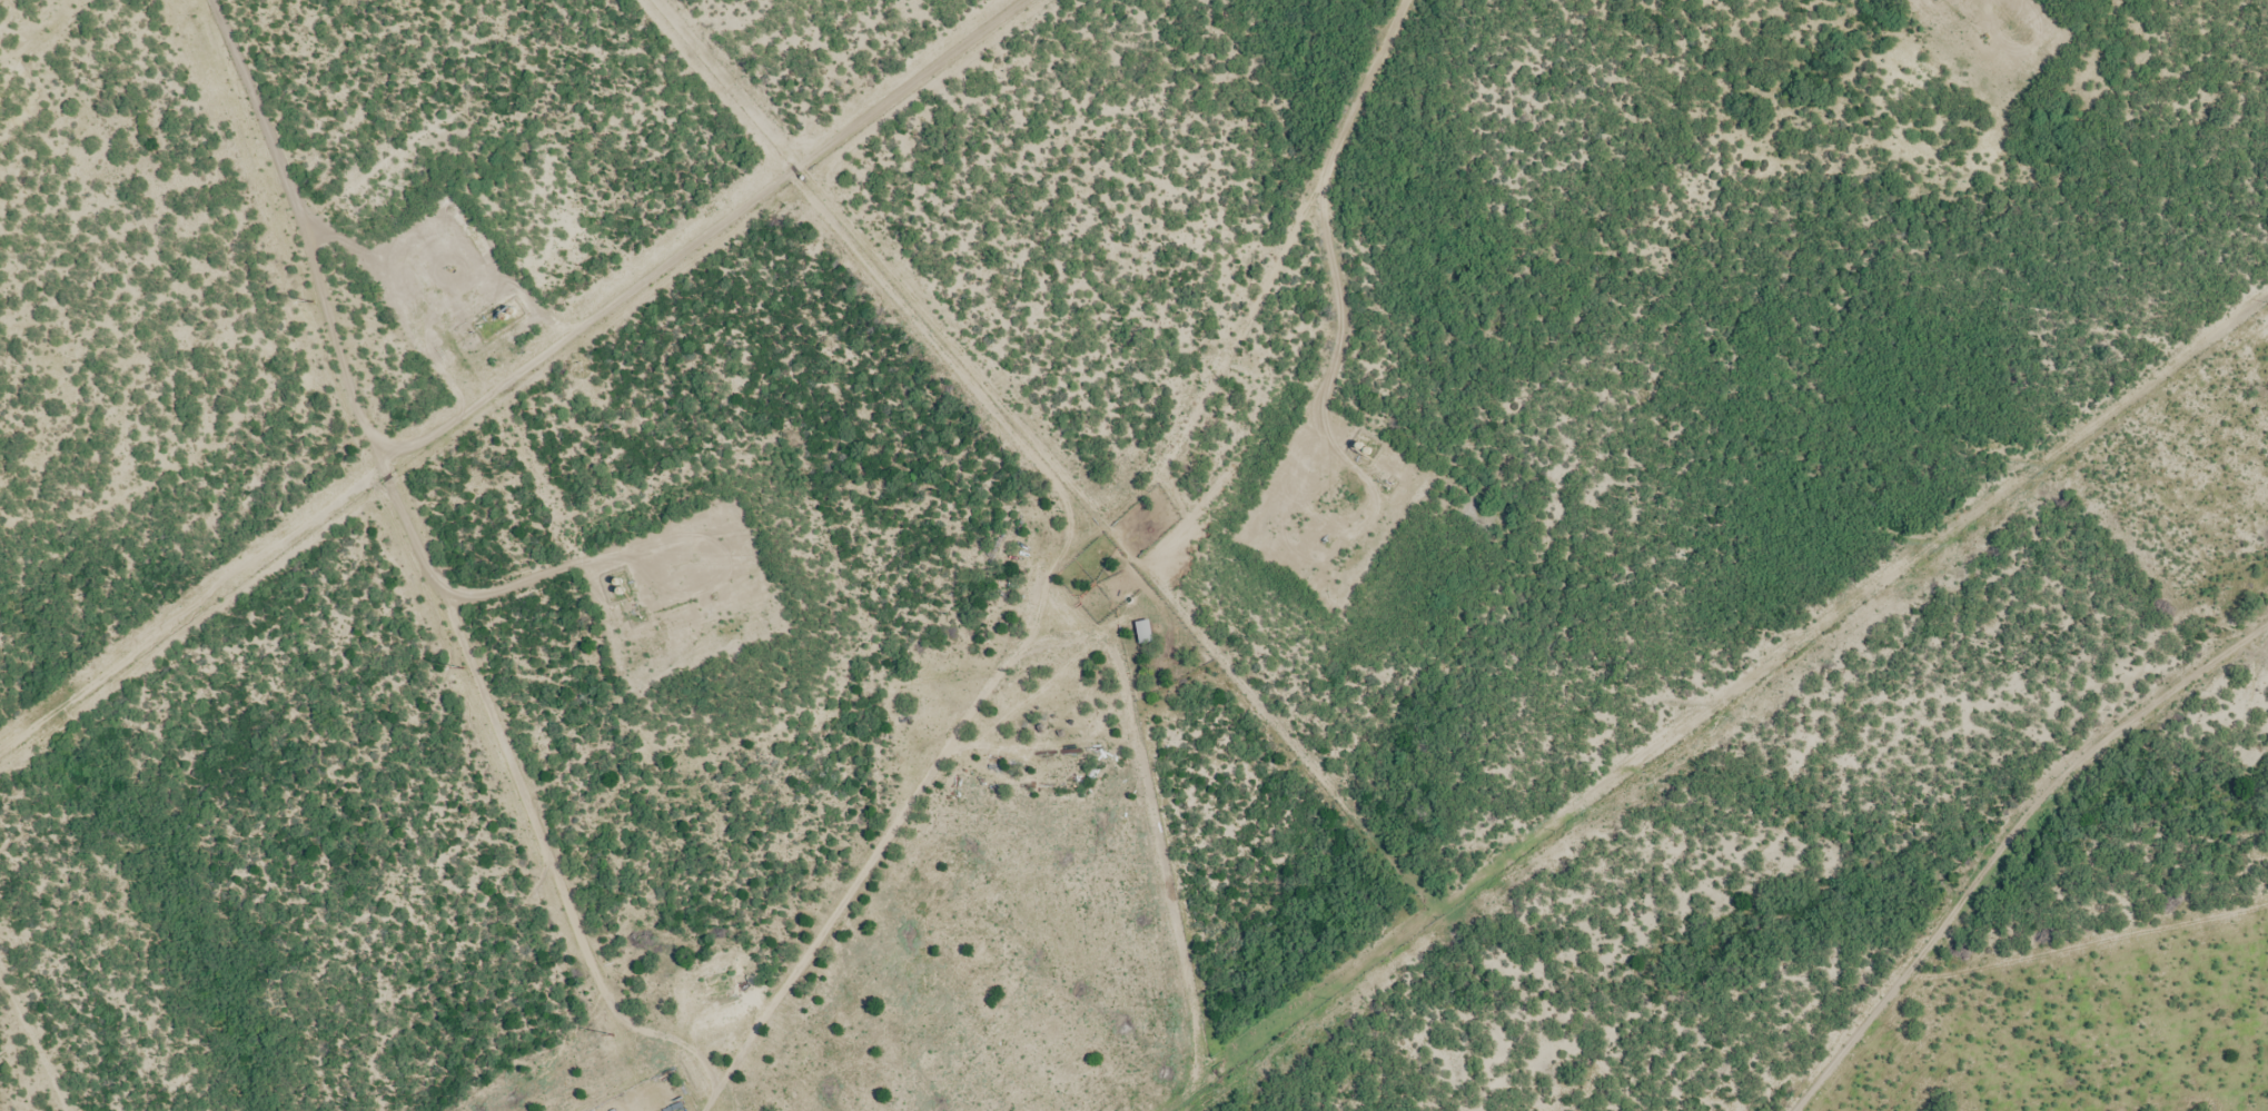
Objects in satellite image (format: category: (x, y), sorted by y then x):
power tower: (313, 302)
power tower: (463, 668)
road: (1729, 724)
road: (2009, 841)
power tower: (613, 1036)

